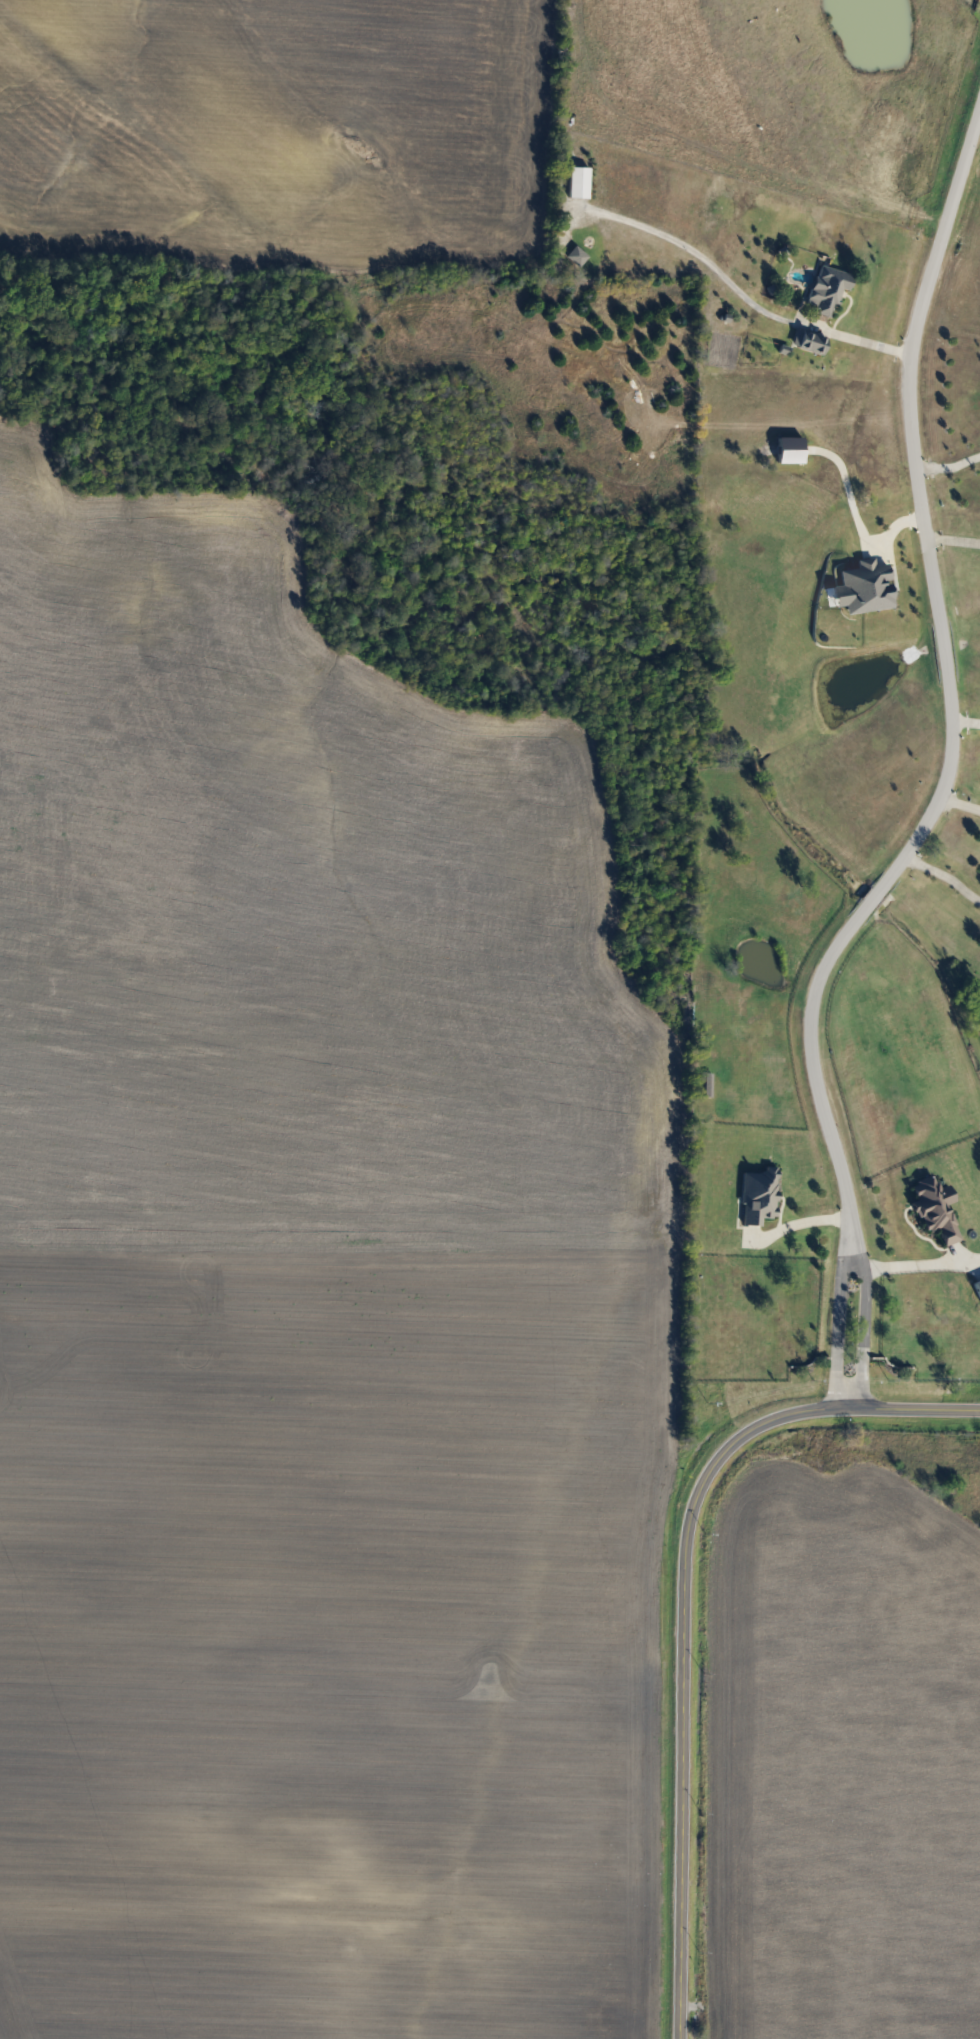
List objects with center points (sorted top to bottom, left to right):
building: (576, 183)
building: (575, 256)
road: (733, 290)
building: (826, 290)
building: (806, 341)
road: (947, 461)
road: (893, 530)
road: (952, 537)
road: (945, 668)
road: (964, 721)
road: (957, 801)
road: (938, 873)
building: (757, 1195)
building: (933, 1208)
road: (803, 1223)
road: (907, 1264)
building: (977, 1287)
road: (836, 1311)
road: (859, 1311)
road: (680, 1604)

